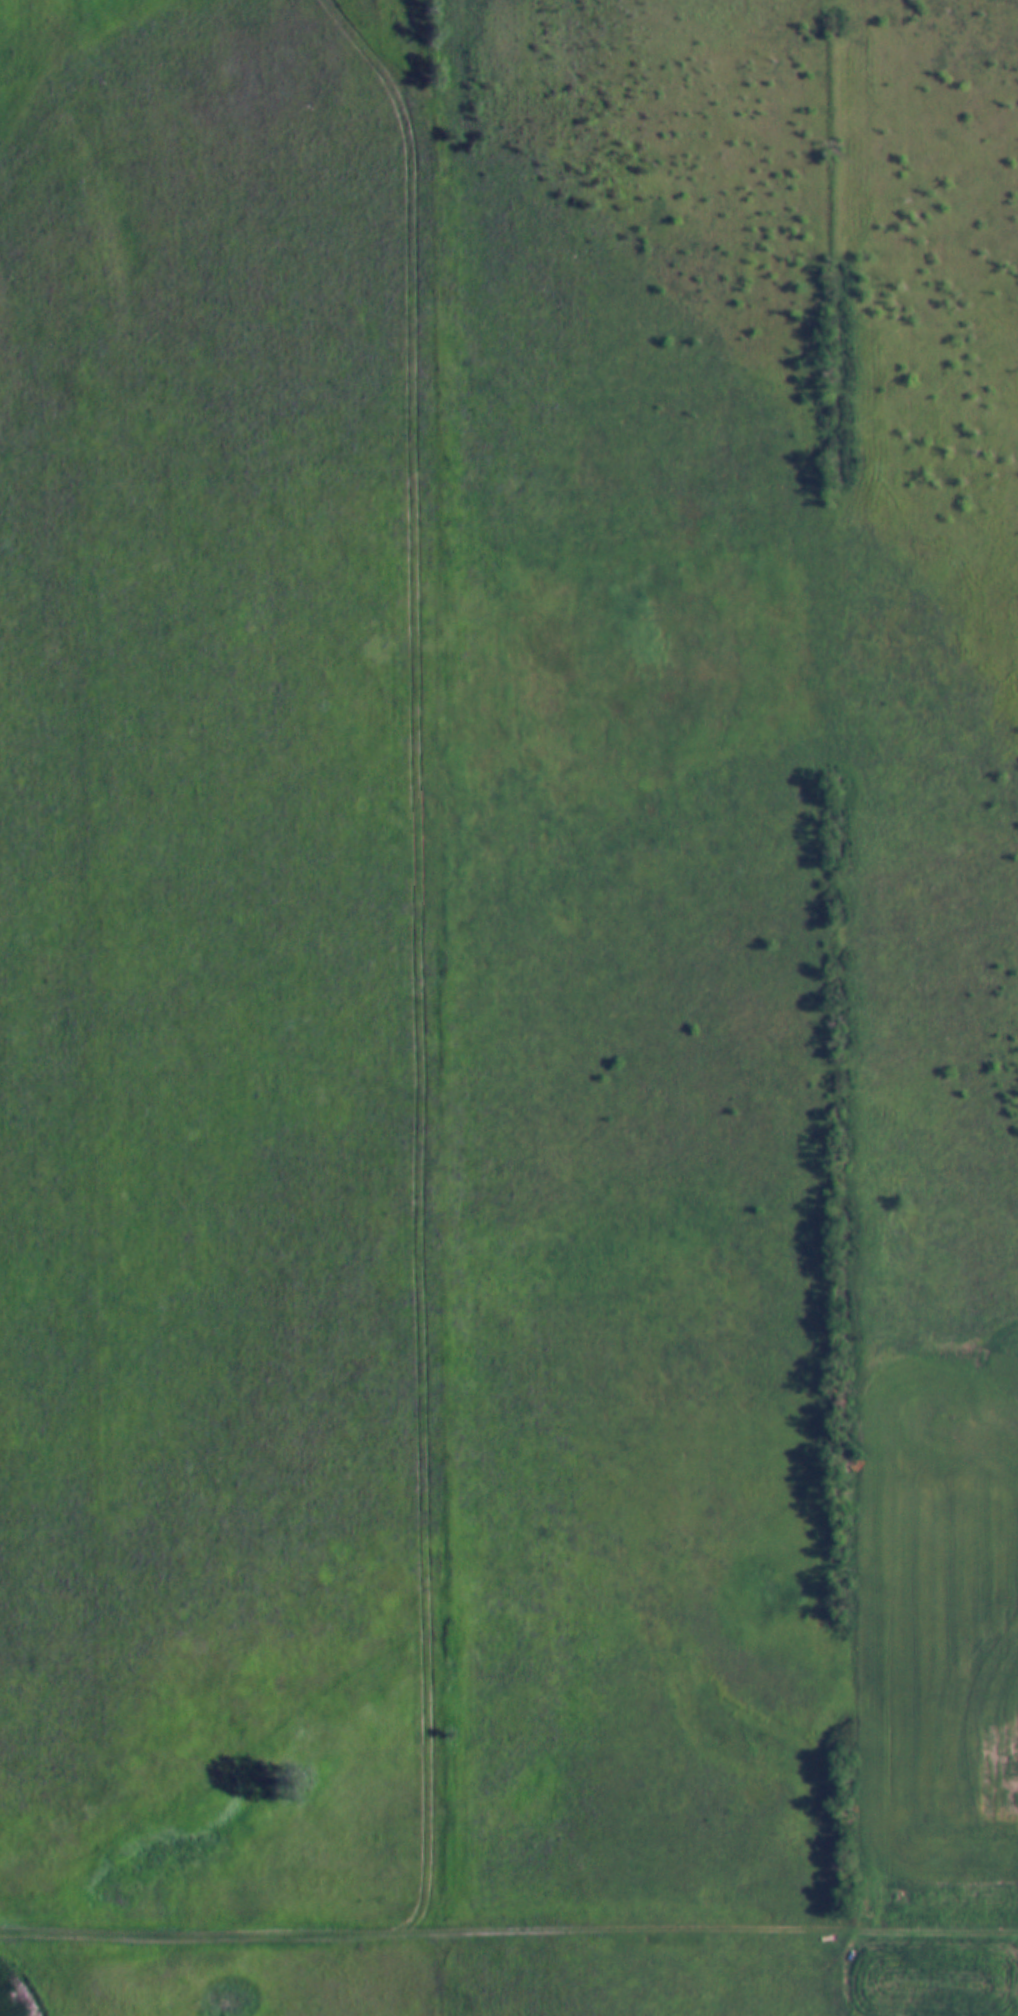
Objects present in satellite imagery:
road: (508, 1932)

